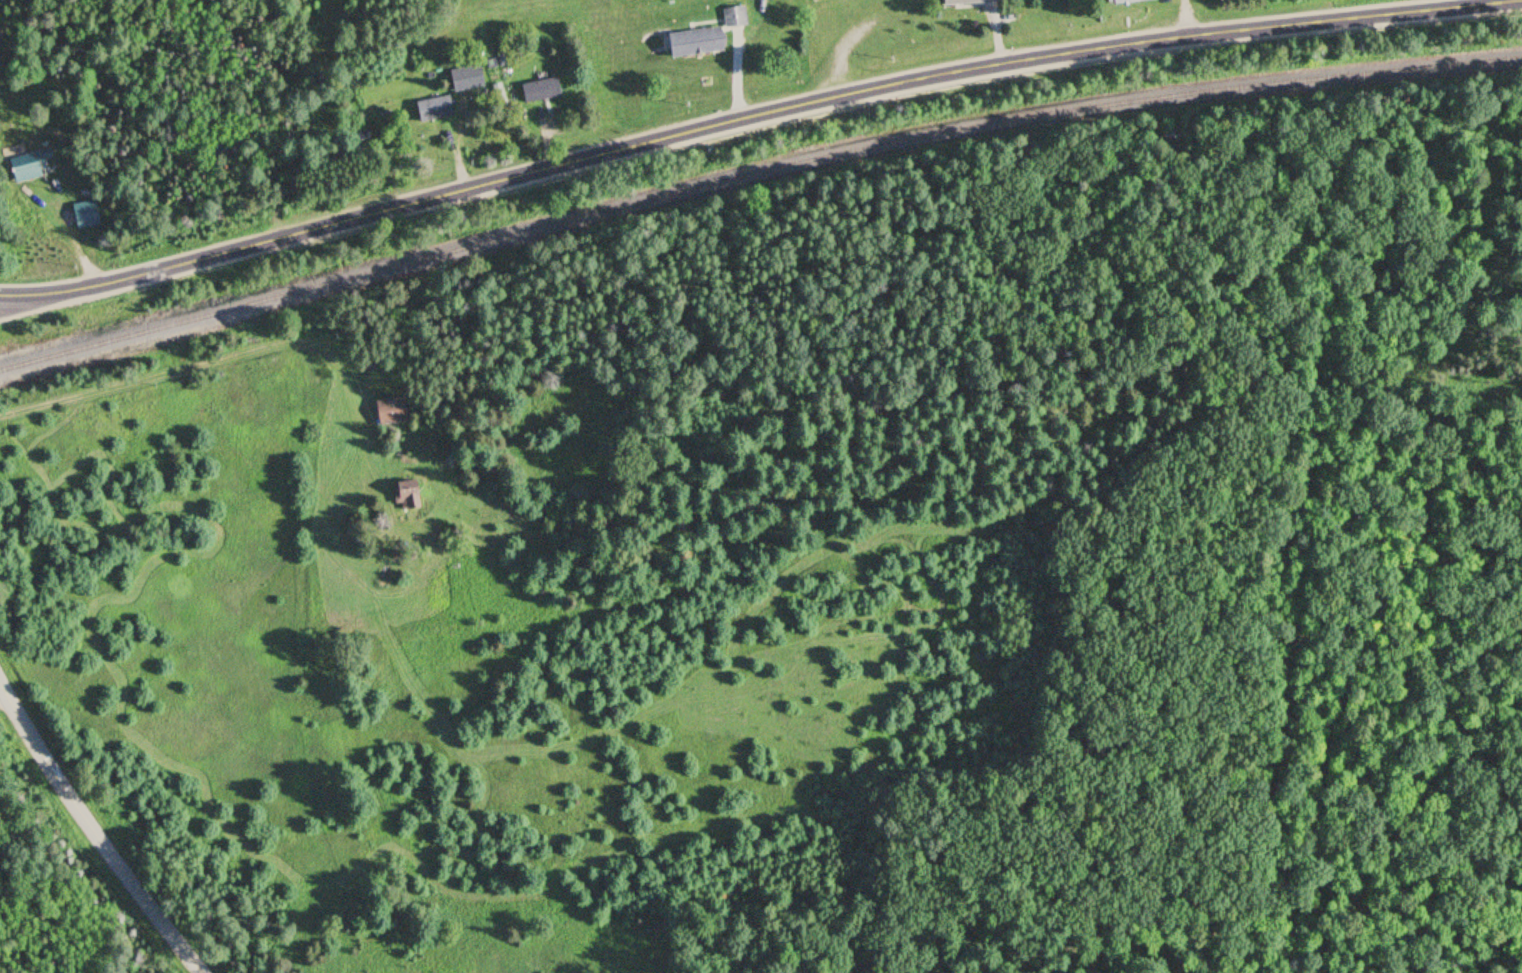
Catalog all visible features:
building: (965, 1)
building: (1121, 1)
building: (732, 17)
building: (690, 42)
building: (537, 89)
building: (432, 107)
road: (754, 116)
building: (20, 166)
railway: (753, 174)
building: (83, 215)
road: (0, 296)
road: (217, 361)
building: (387, 411)
building: (404, 499)
road: (95, 830)

